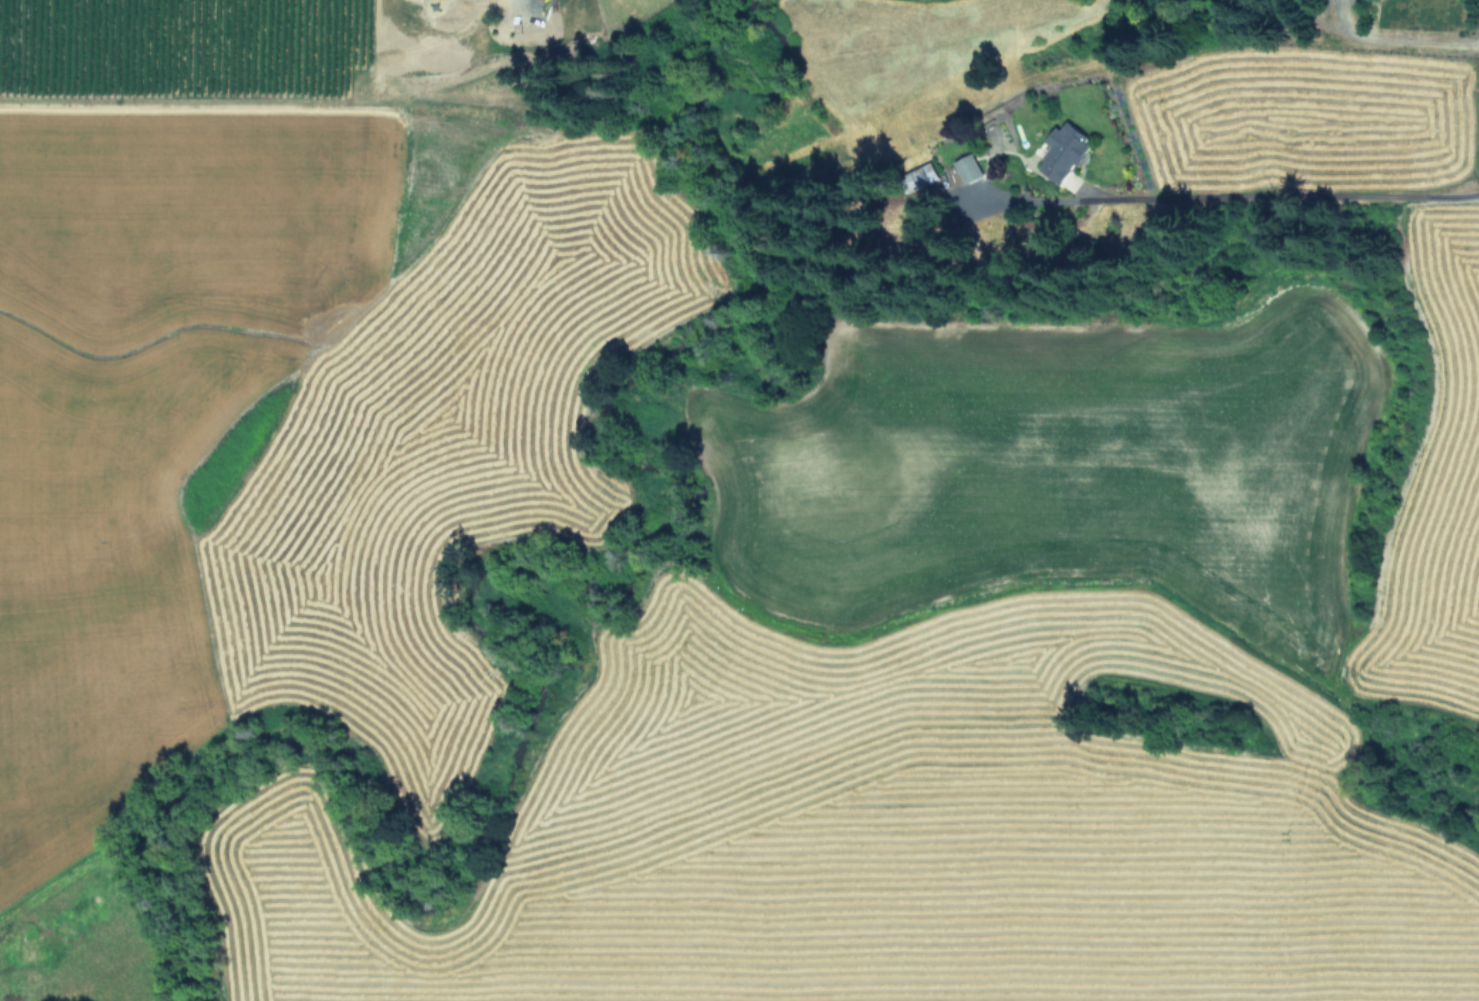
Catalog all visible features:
road: (1395, 36)
building: (1065, 151)
building: (969, 168)
building: (928, 172)
road: (1276, 199)
crop: (277, 375)
river: (332, 376)
crop: (1037, 676)

